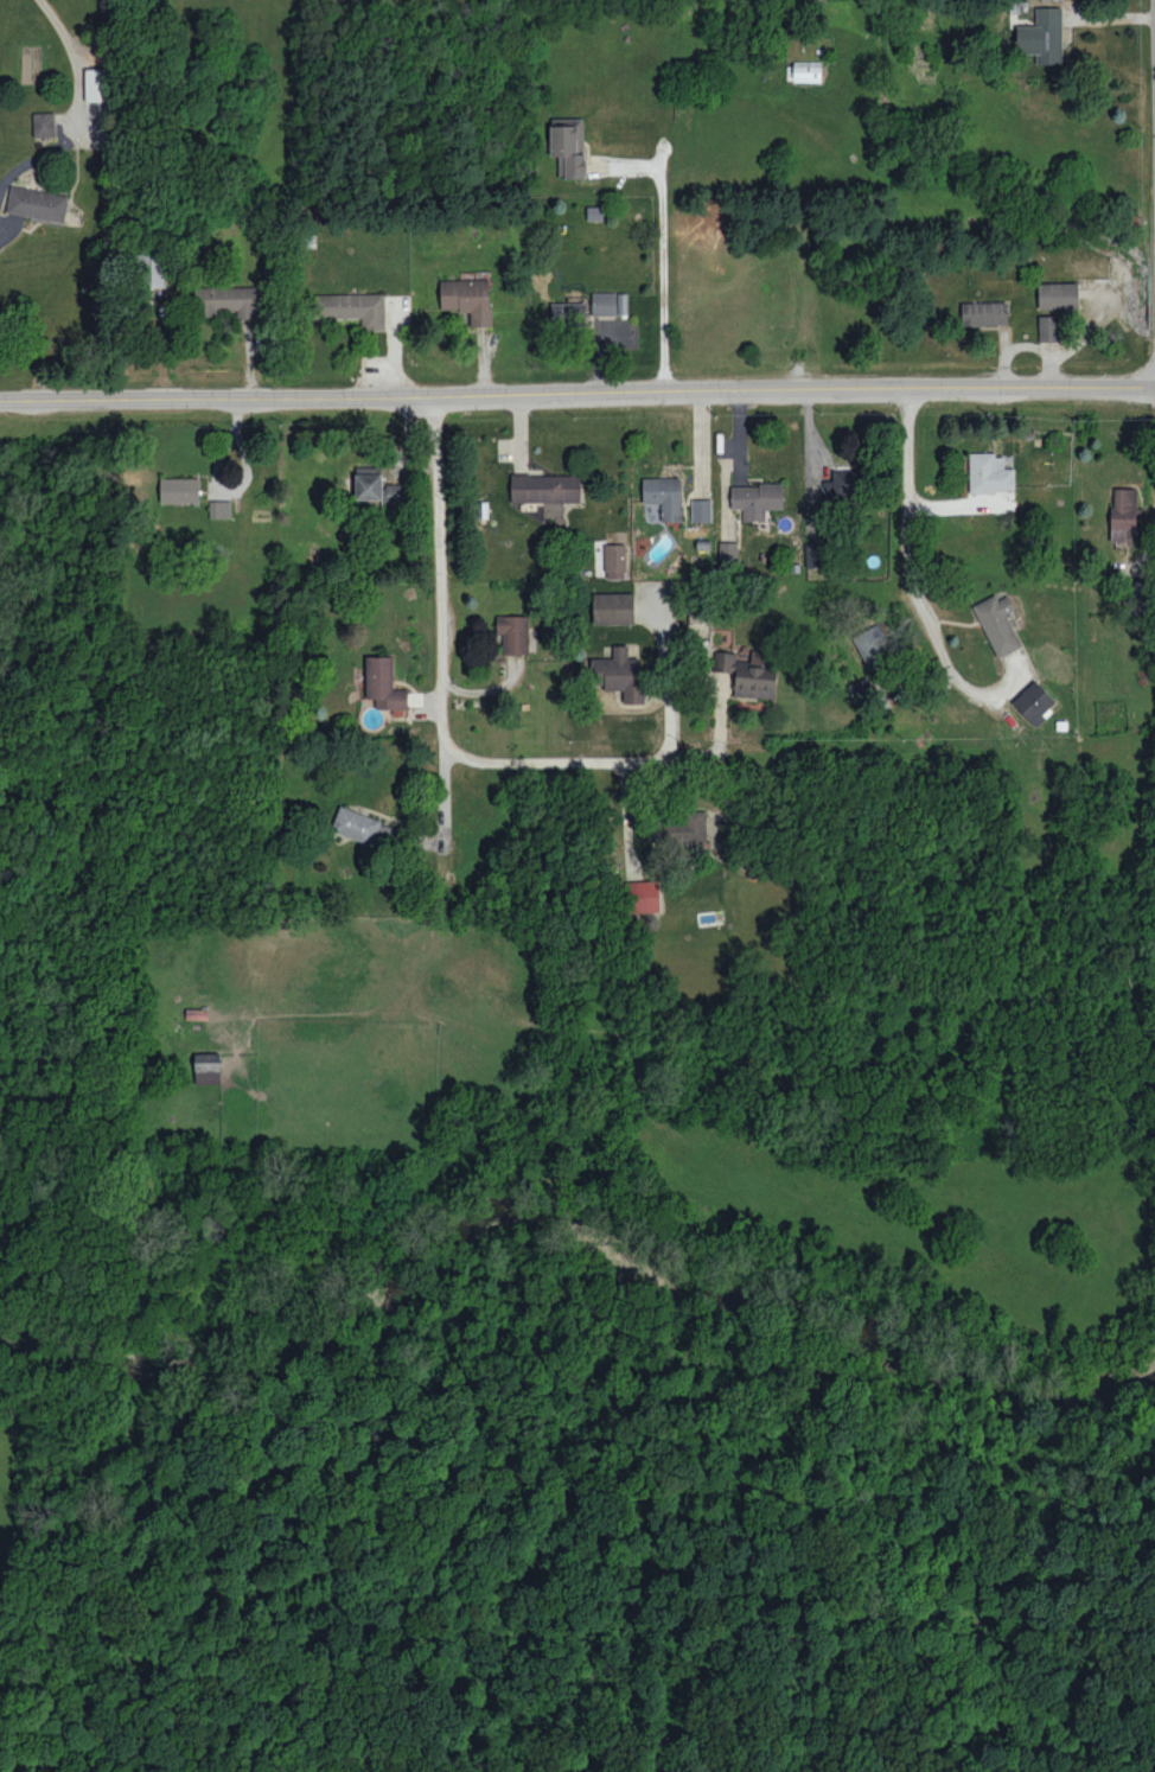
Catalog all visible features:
building: (1042, 36)
building: (806, 70)
road: (1151, 71)
building: (97, 84)
road: (74, 108)
building: (44, 123)
building: (568, 146)
building: (37, 203)
road: (662, 257)
building: (158, 270)
building: (1058, 294)
building: (468, 298)
building: (229, 300)
building: (608, 304)
building: (353, 307)
building: (568, 313)
building: (984, 313)
building: (1049, 327)
road: (577, 396)
building: (990, 473)
building: (844, 485)
building: (379, 487)
building: (545, 487)
building: (179, 490)
building: (664, 496)
building: (755, 499)
building: (219, 509)
building: (701, 509)
building: (1123, 514)
road: (914, 525)
building: (728, 553)
building: (813, 554)
building: (615, 561)
building: (613, 607)
road: (438, 610)
building: (997, 624)
building: (512, 633)
building: (874, 645)
building: (619, 674)
building: (745, 675)
building: (383, 683)
building: (860, 688)
building: (1034, 702)
building: (366, 829)
building: (682, 831)
road: (755, 861)
building: (644, 895)
building: (208, 1067)
river: (575, 1220)

